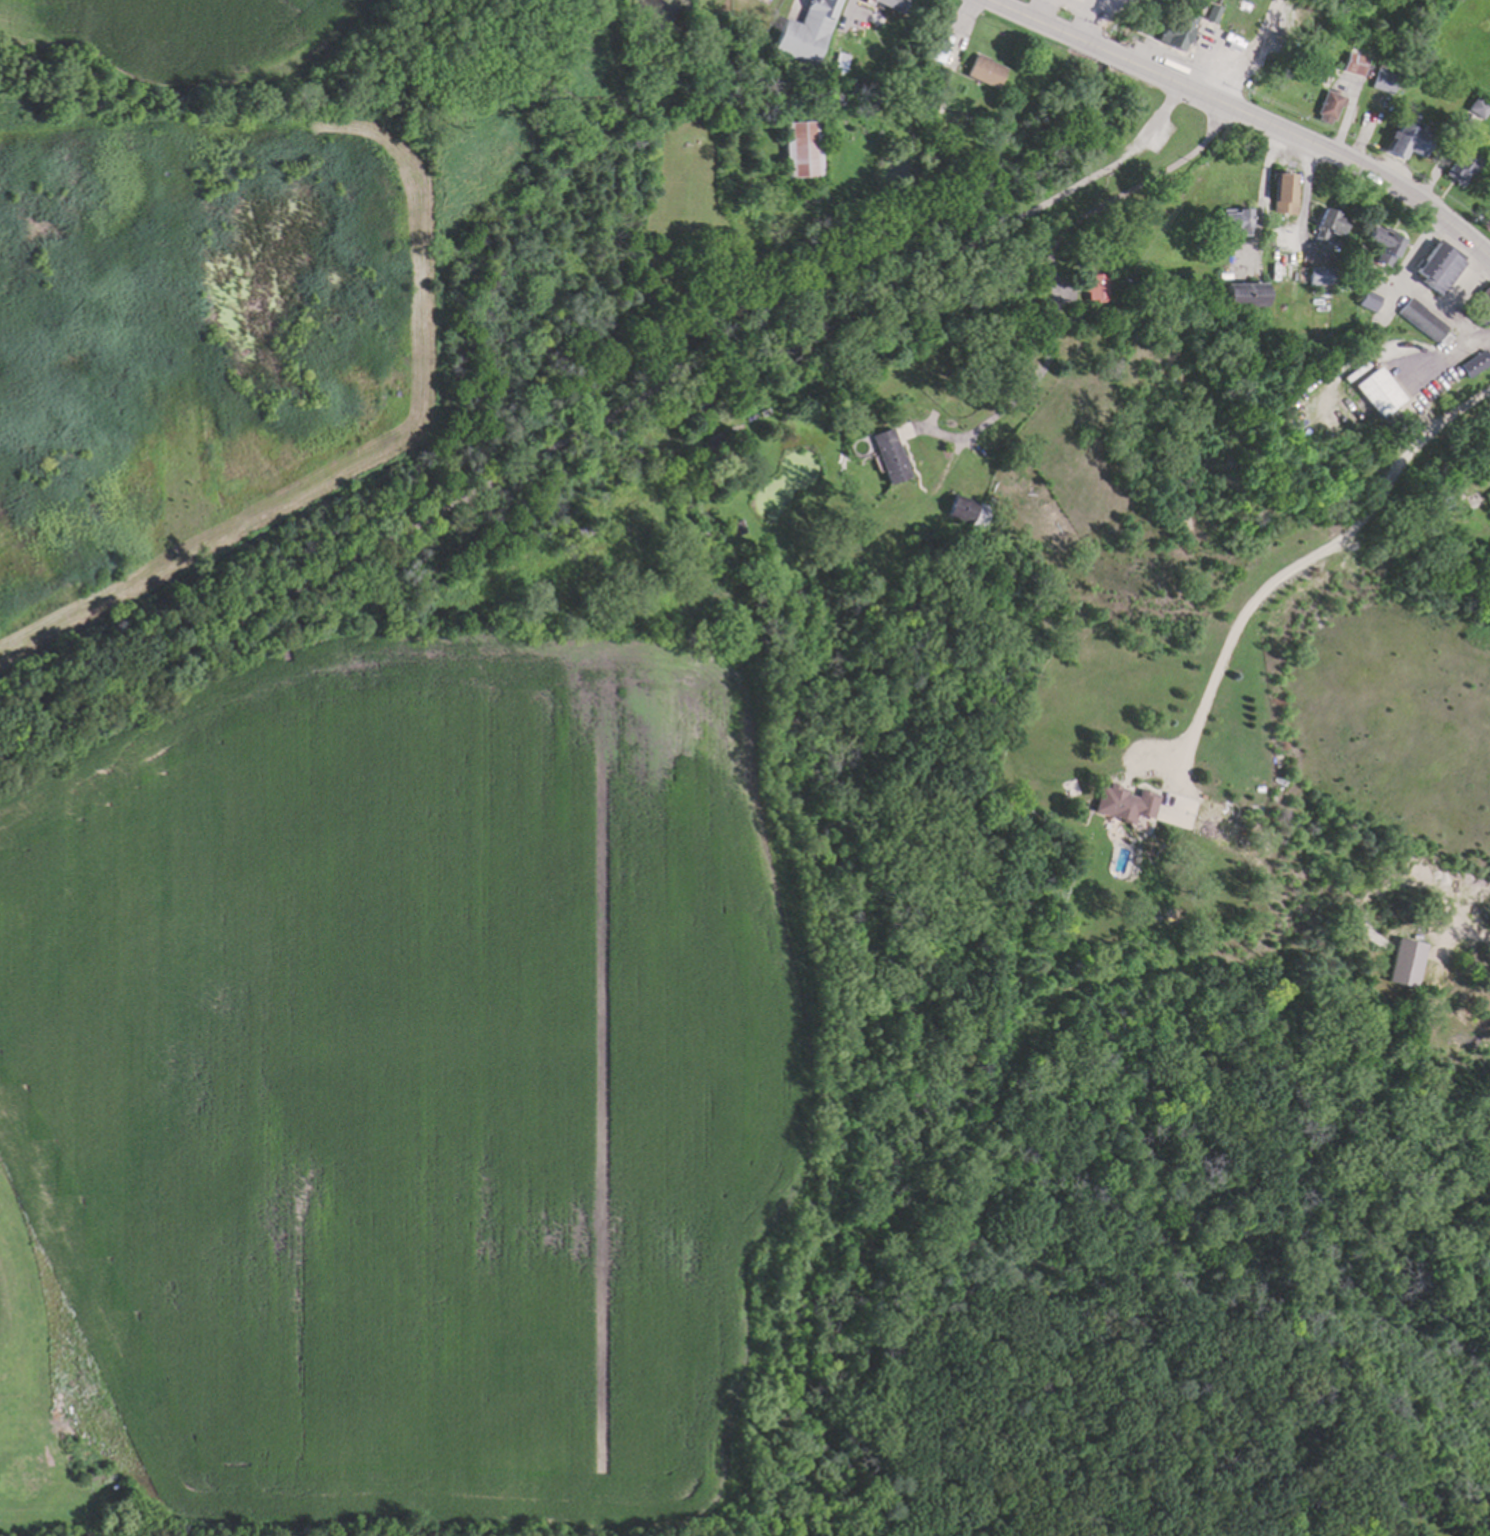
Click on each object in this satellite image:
road: (981, 0)
building: (889, 4)
building: (1208, 12)
road: (1089, 13)
building: (804, 30)
building: (1175, 30)
building: (931, 46)
building: (940, 48)
road: (1254, 53)
building: (1354, 59)
building: (983, 71)
building: (1382, 79)
building: (1329, 107)
building: (1478, 107)
road: (1161, 111)
road: (1250, 113)
parking lot: (1155, 132)
building: (1408, 138)
building: (799, 149)
building: (1461, 163)
building: (1285, 189)
building: (1233, 219)
building: (1328, 220)
building: (1380, 245)
building: (1438, 270)
building: (1317, 272)
road: (1053, 273)
building: (1095, 275)
building: (1243, 291)
road: (1421, 292)
building: (1369, 301)
building: (1480, 306)
building: (1071, 311)
building: (1423, 318)
road: (1464, 324)
road: (1446, 358)
building: (1472, 365)
building: (1382, 395)
building: (716, 446)
road: (571, 450)
building: (888, 455)
building: (1487, 492)
building: (1435, 496)
building: (967, 509)
building: (583, 529)
road: (1316, 561)
building: (1125, 814)
road: (1462, 941)
building: (1404, 960)
park: (43, 1414)

